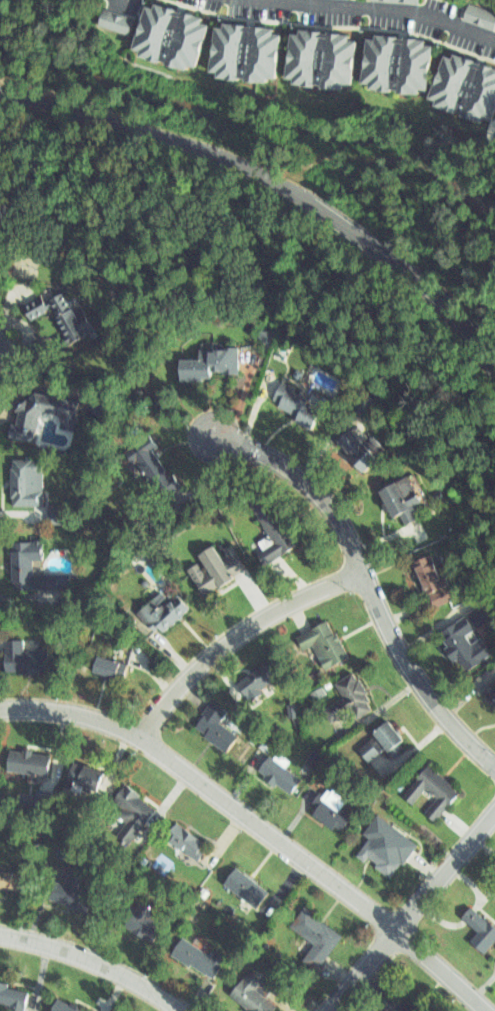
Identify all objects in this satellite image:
building: (396, 1)
road: (375, 6)
building: (481, 7)
building: (479, 16)
building: (112, 20)
building: (167, 34)
building: (240, 47)
building: (317, 56)
building: (395, 60)
building: (466, 83)
road: (277, 179)
building: (59, 317)
building: (201, 359)
building: (296, 399)
building: (23, 415)
building: (360, 441)
building: (149, 461)
building: (25, 481)
building: (407, 492)
building: (57, 514)
building: (275, 524)
building: (18, 563)
building: (429, 568)
building: (211, 569)
road: (365, 582)
building: (158, 608)
building: (467, 633)
road: (235, 636)
building: (328, 638)
building: (21, 655)
building: (105, 663)
building: (259, 675)
building: (491, 681)
building: (358, 688)
building: (491, 692)
building: (212, 724)
building: (388, 734)
building: (25, 759)
building: (281, 765)
building: (81, 770)
building: (437, 785)
building: (335, 800)
building: (126, 811)
road: (259, 826)
building: (179, 839)
building: (388, 842)
building: (7, 880)
building: (242, 883)
building: (67, 890)
road: (412, 910)
building: (139, 918)
building: (482, 922)
building: (320, 930)
building: (195, 954)
road: (95, 959)
building: (248, 992)
building: (399, 994)
building: (10, 997)
building: (61, 1004)

